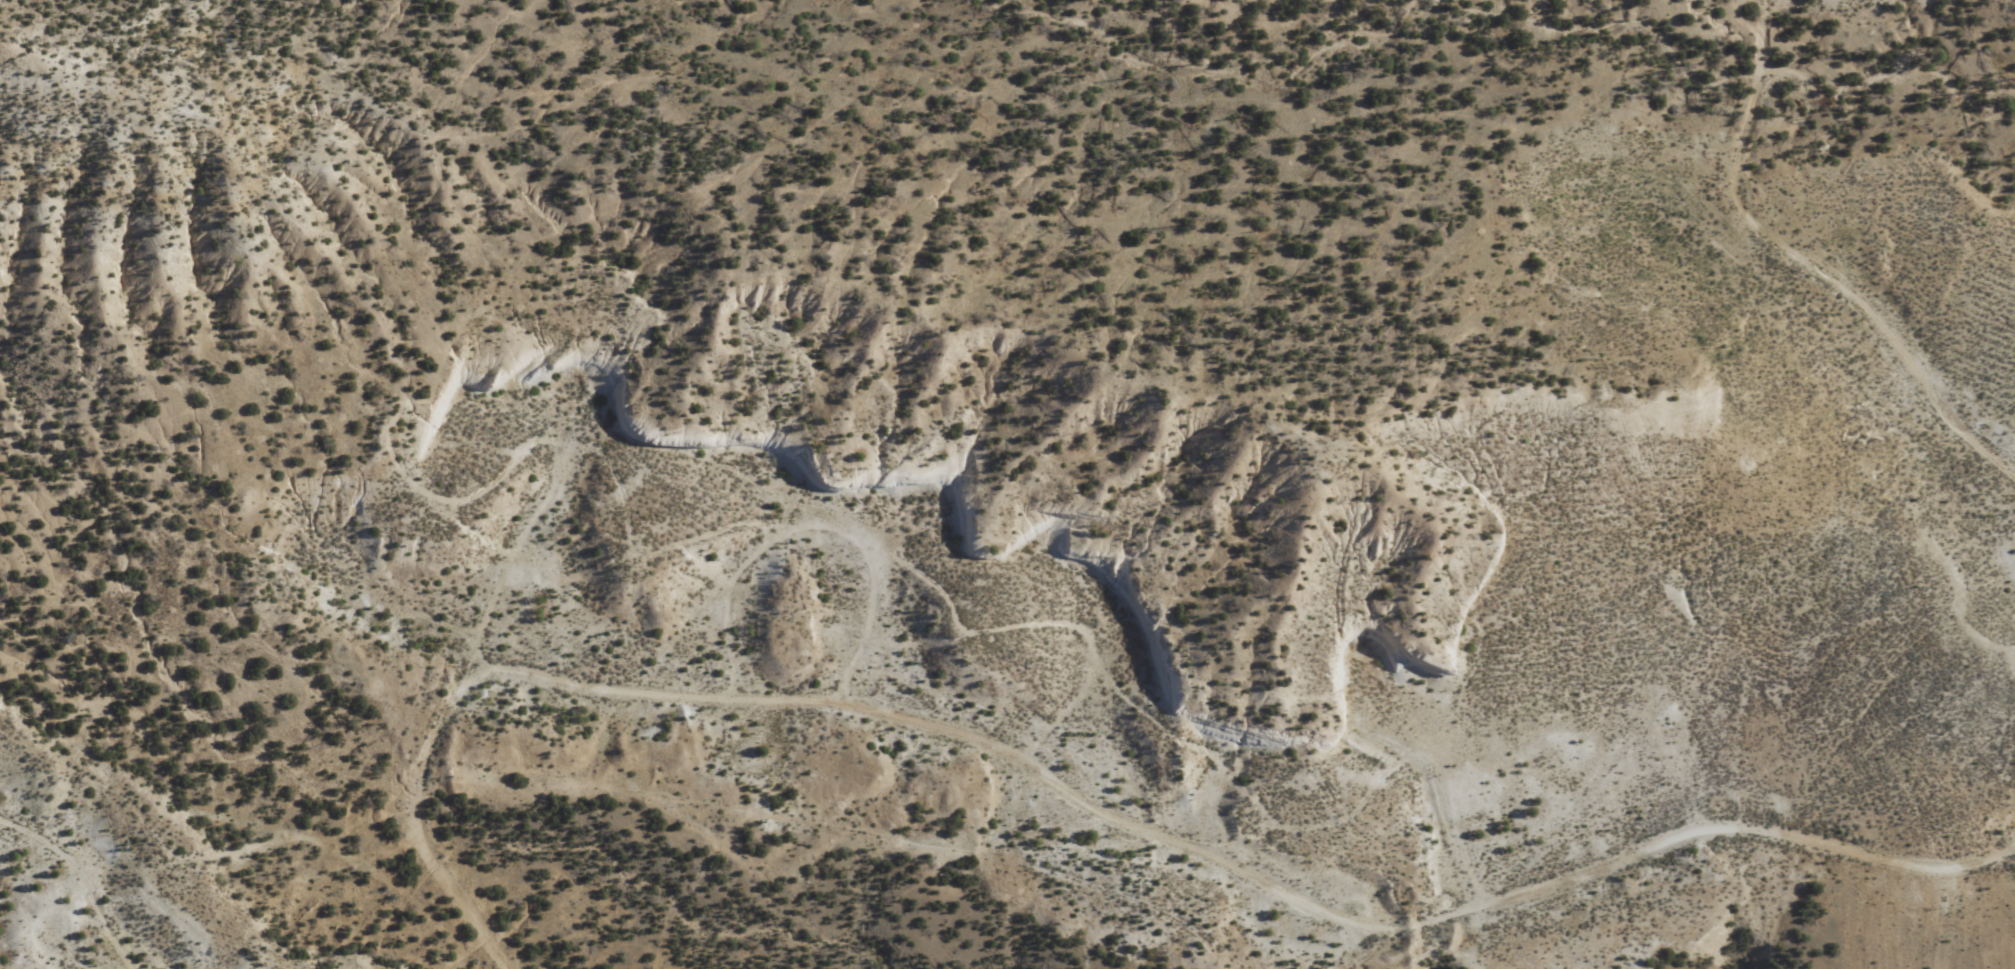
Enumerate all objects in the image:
road: (1084, 808)

